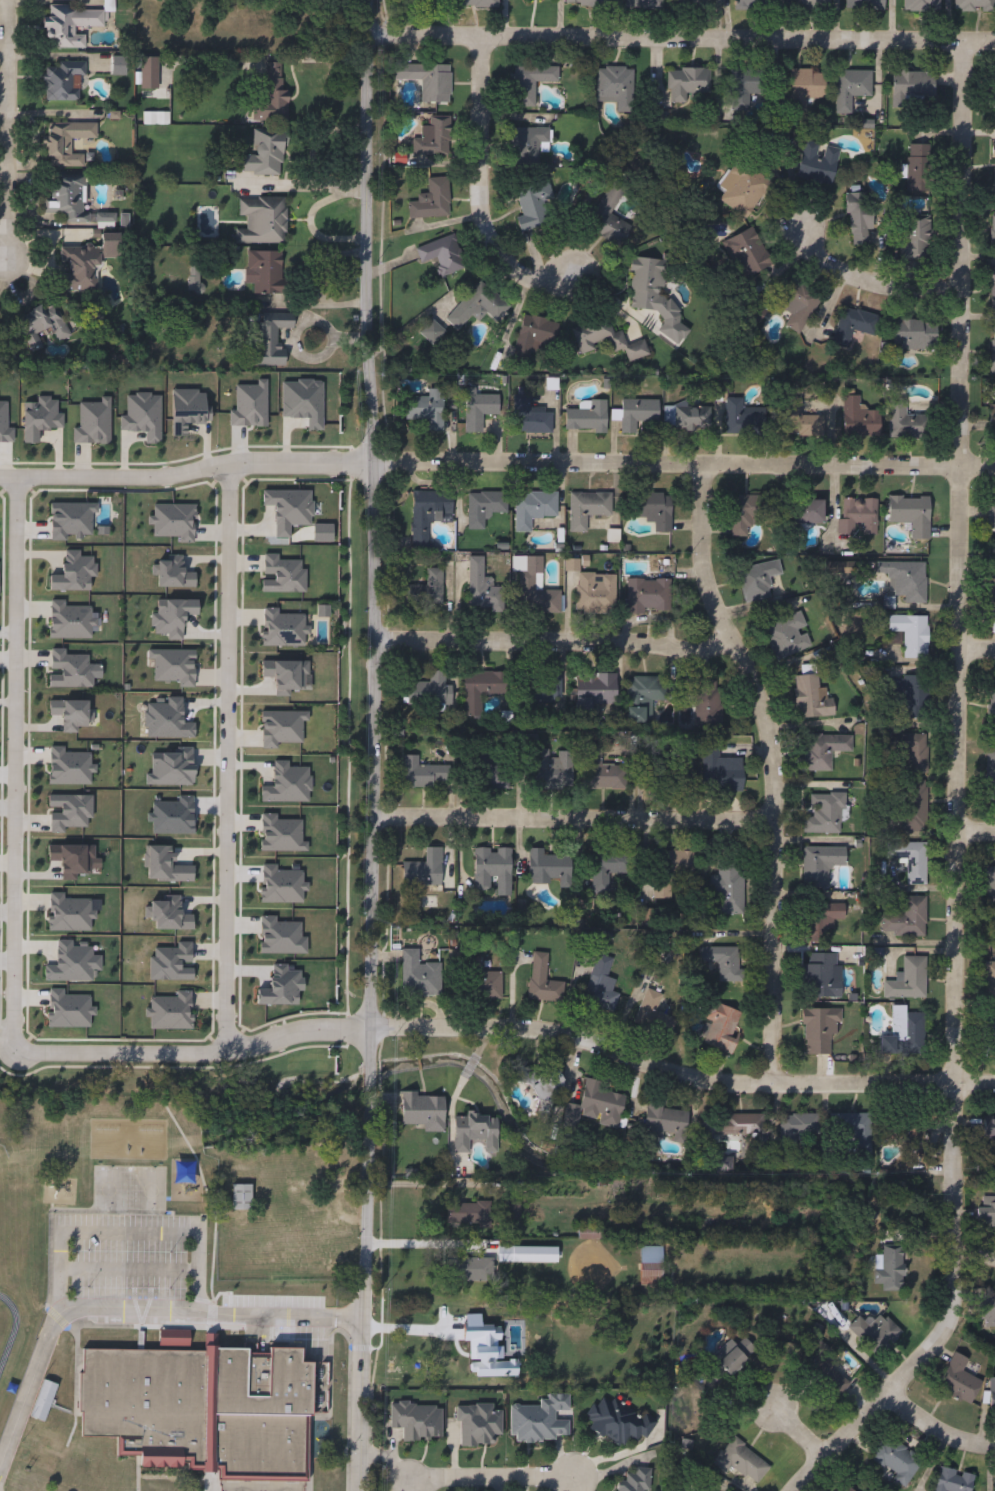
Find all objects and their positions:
building: (538, 0)
building: (463, 3)
building: (587, 3)
building: (754, 4)
building: (645, 5)
building: (692, 5)
building: (808, 5)
building: (864, 5)
building: (921, 5)
building: (974, 5)
building: (70, 23)
road: (682, 41)
building: (153, 73)
building: (427, 80)
building: (63, 81)
building: (530, 83)
building: (689, 85)
building: (615, 86)
building: (806, 87)
building: (912, 88)
building: (743, 89)
building: (850, 89)
building: (994, 93)
building: (269, 96)
road: (7, 134)
building: (433, 139)
building: (66, 146)
building: (525, 146)
building: (265, 155)
building: (817, 163)
building: (993, 165)
building: (919, 168)
road: (354, 182)
road: (288, 188)
building: (743, 188)
road: (480, 194)
building: (68, 198)
building: (431, 201)
building: (535, 205)
building: (606, 209)
building: (860, 219)
road: (312, 220)
building: (262, 222)
building: (993, 228)
building: (916, 238)
building: (749, 251)
building: (442, 255)
building: (79, 268)
building: (266, 271)
road: (869, 282)
building: (992, 288)
building: (655, 295)
building: (798, 303)
building: (476, 306)
building: (42, 325)
building: (854, 325)
building: (432, 332)
building: (914, 335)
building: (532, 336)
building: (606, 338)
building: (270, 339)
building: (992, 350)
building: (426, 410)
building: (481, 410)
building: (638, 414)
building: (687, 416)
building: (587, 417)
building: (531, 418)
building: (746, 419)
building: (992, 419)
building: (859, 420)
building: (908, 422)
road: (685, 468)
road: (188, 472)
building: (491, 505)
building: (533, 508)
building: (588, 509)
building: (652, 510)
building: (809, 512)
building: (428, 514)
building: (746, 514)
building: (911, 515)
building: (991, 515)
building: (860, 517)
building: (905, 580)
building: (757, 581)
building: (534, 588)
building: (425, 589)
building: (483, 589)
building: (991, 591)
building: (595, 593)
building: (648, 596)
building: (911, 634)
road: (554, 636)
building: (787, 637)
road: (976, 656)
building: (430, 689)
building: (484, 689)
building: (542, 689)
building: (594, 691)
building: (909, 694)
building: (643, 697)
building: (811, 698)
building: (991, 701)
building: (707, 705)
road: (375, 745)
building: (818, 753)
building: (912, 754)
road: (228, 757)
building: (990, 762)
road: (16, 765)
building: (552, 770)
road: (772, 770)
building: (488, 771)
building: (601, 772)
building: (422, 774)
building: (700, 775)
road: (956, 794)
building: (912, 808)
building: (60, 810)
building: (825, 815)
road: (577, 823)
road: (975, 835)
building: (910, 860)
building: (821, 864)
building: (492, 868)
building: (607, 868)
building: (548, 869)
building: (423, 870)
building: (670, 870)
building: (990, 887)
building: (727, 889)
building: (906, 919)
building: (821, 920)
building: (723, 962)
building: (66, 964)
building: (418, 975)
building: (819, 975)
building: (908, 980)
building: (542, 981)
building: (481, 982)
building: (989, 982)
building: (599, 990)
building: (653, 1015)
building: (720, 1027)
building: (820, 1031)
building: (903, 1033)
building: (990, 1033)
road: (195, 1051)
road: (680, 1073)
building: (540, 1088)
building: (595, 1106)
building: (424, 1111)
building: (665, 1121)
building: (733, 1125)
building: (798, 1126)
building: (989, 1128)
building: (904, 1129)
building: (856, 1132)
building: (475, 1133)
road: (433, 1183)
building: (241, 1197)
building: (513, 1211)
building: (986, 1213)
building: (468, 1215)
road: (126, 1233)
building: (589, 1234)
building: (521, 1256)
building: (651, 1267)
building: (891, 1269)
building: (468, 1270)
road: (975, 1272)
road: (132, 1307)
building: (986, 1310)
building: (873, 1333)
building: (461, 1346)
building: (734, 1356)
building: (830, 1379)
building: (957, 1380)
building: (992, 1394)
building: (205, 1408)
building: (540, 1420)
building: (417, 1421)
building: (619, 1423)
road: (795, 1427)
road: (936, 1427)
building: (44, 1437)
building: (894, 1458)
building: (36, 1459)
building: (739, 1461)
road: (498, 1479)
building: (952, 1480)
building: (634, 1481)
building: (844, 1488)

